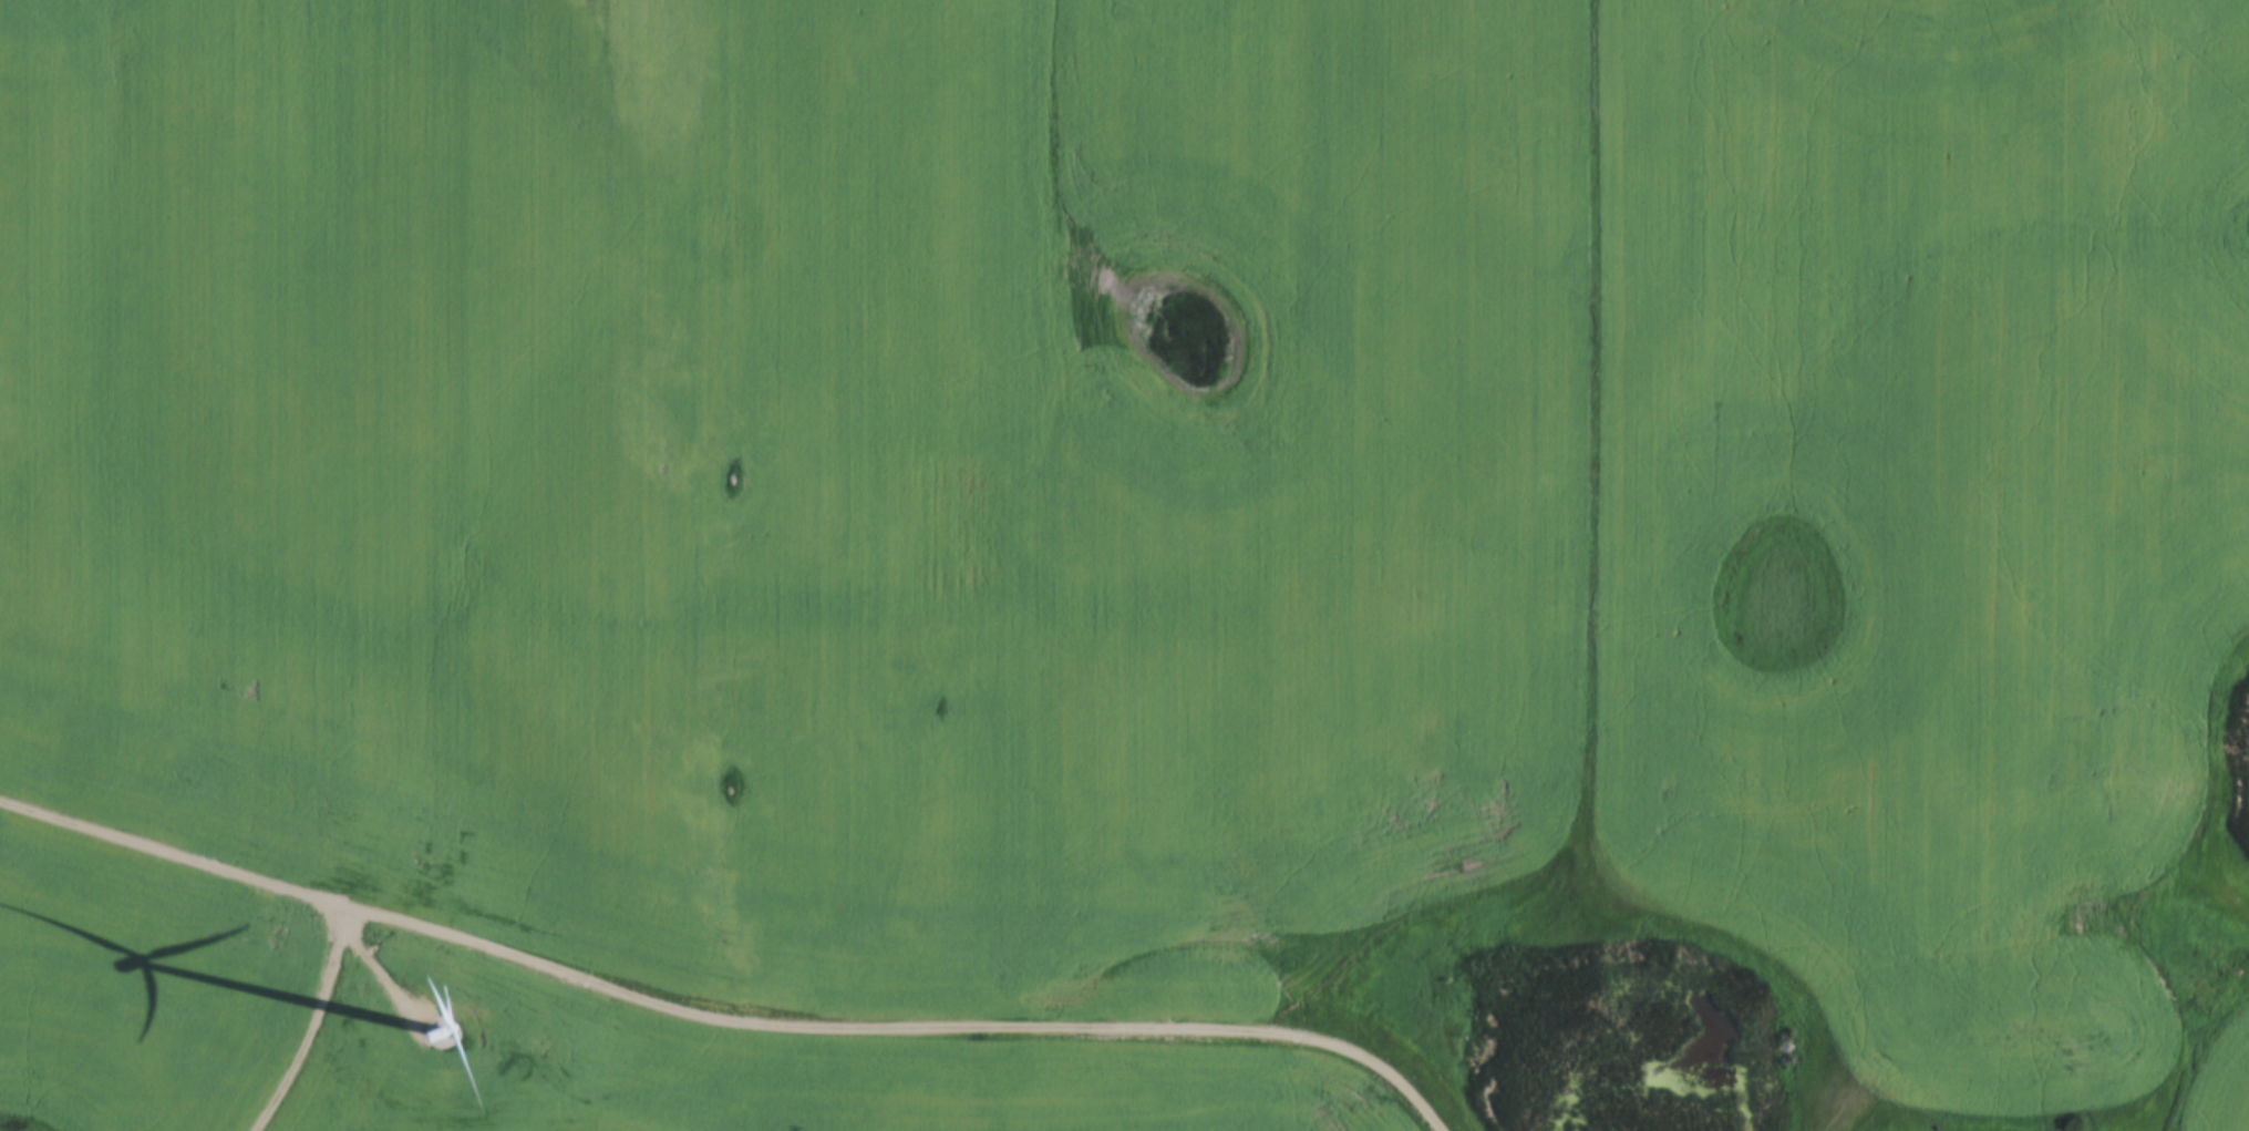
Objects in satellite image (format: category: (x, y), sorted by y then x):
road: (716, 1014)
road: (307, 1017)
wind turbine: (441, 1035)

